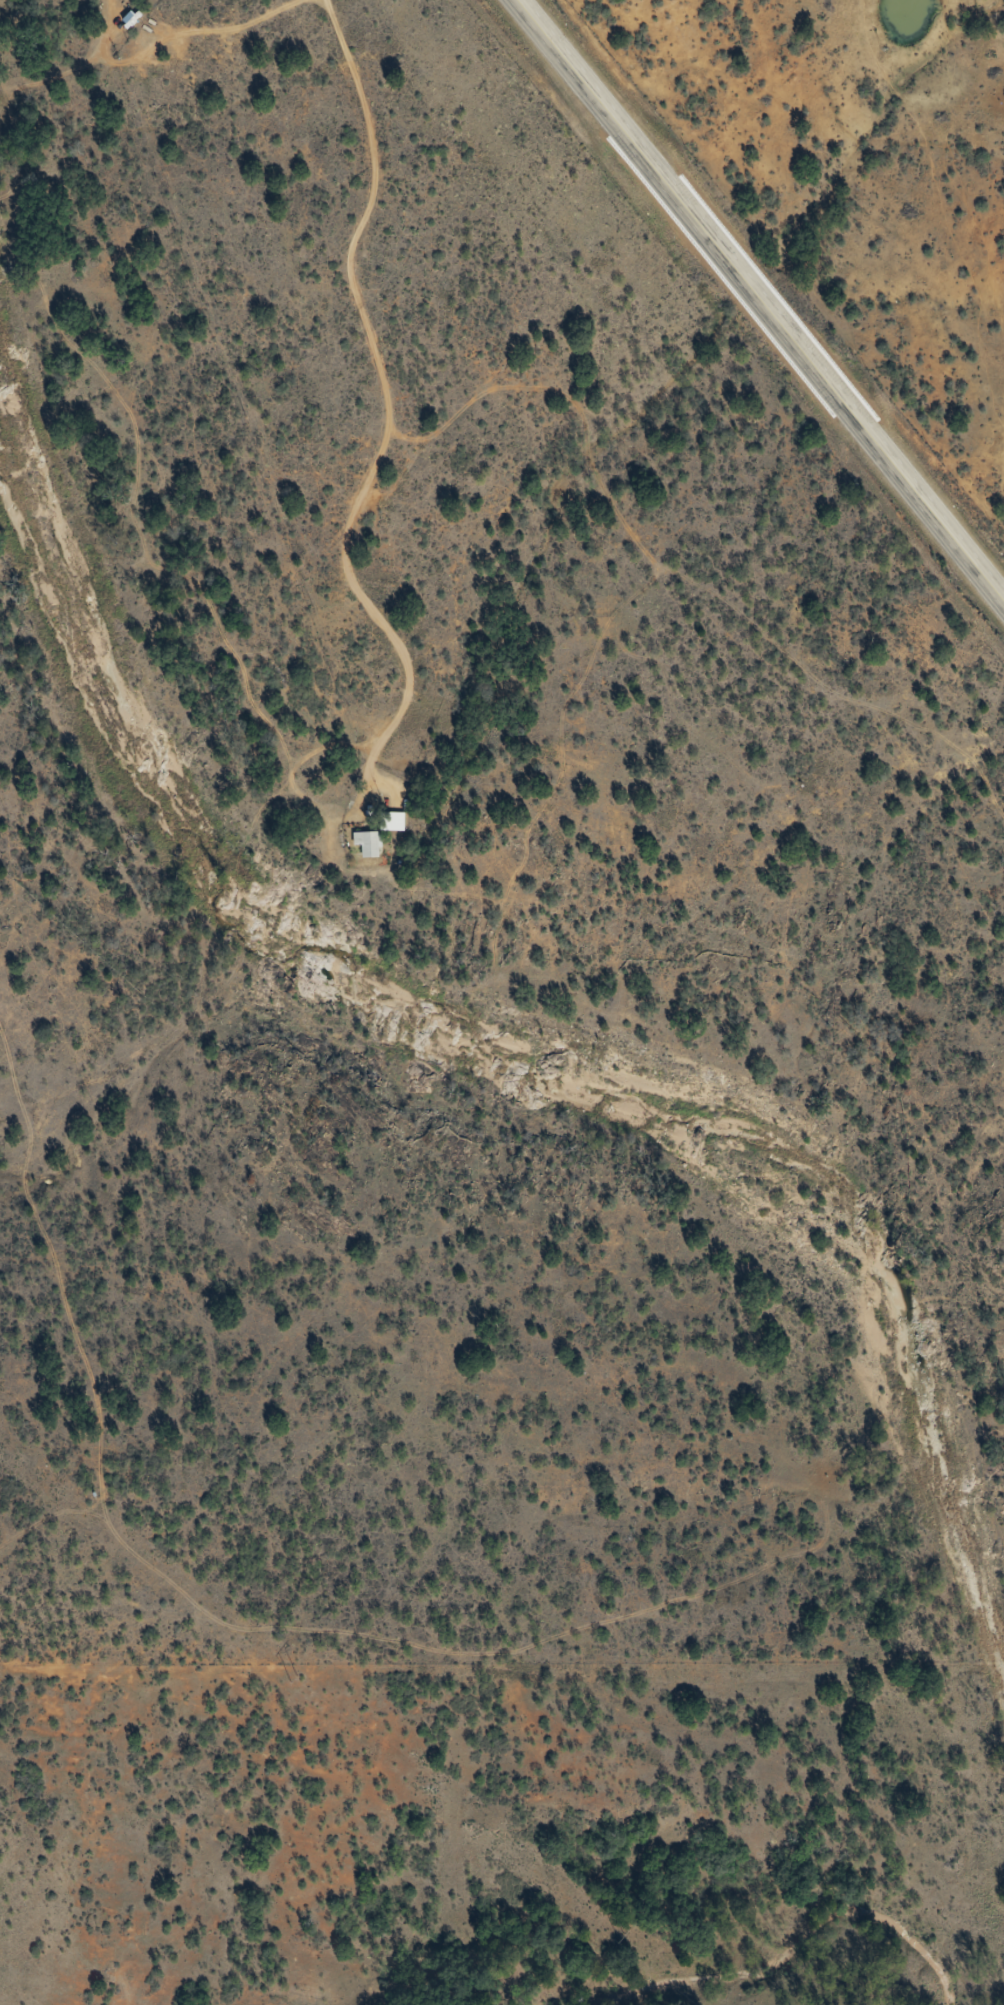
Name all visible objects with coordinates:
road: (524, 160)
road: (764, 301)
building: (370, 844)
road: (527, 1669)
power tower: (301, 1678)
road: (135, 1820)
power tower: (631, 1935)

